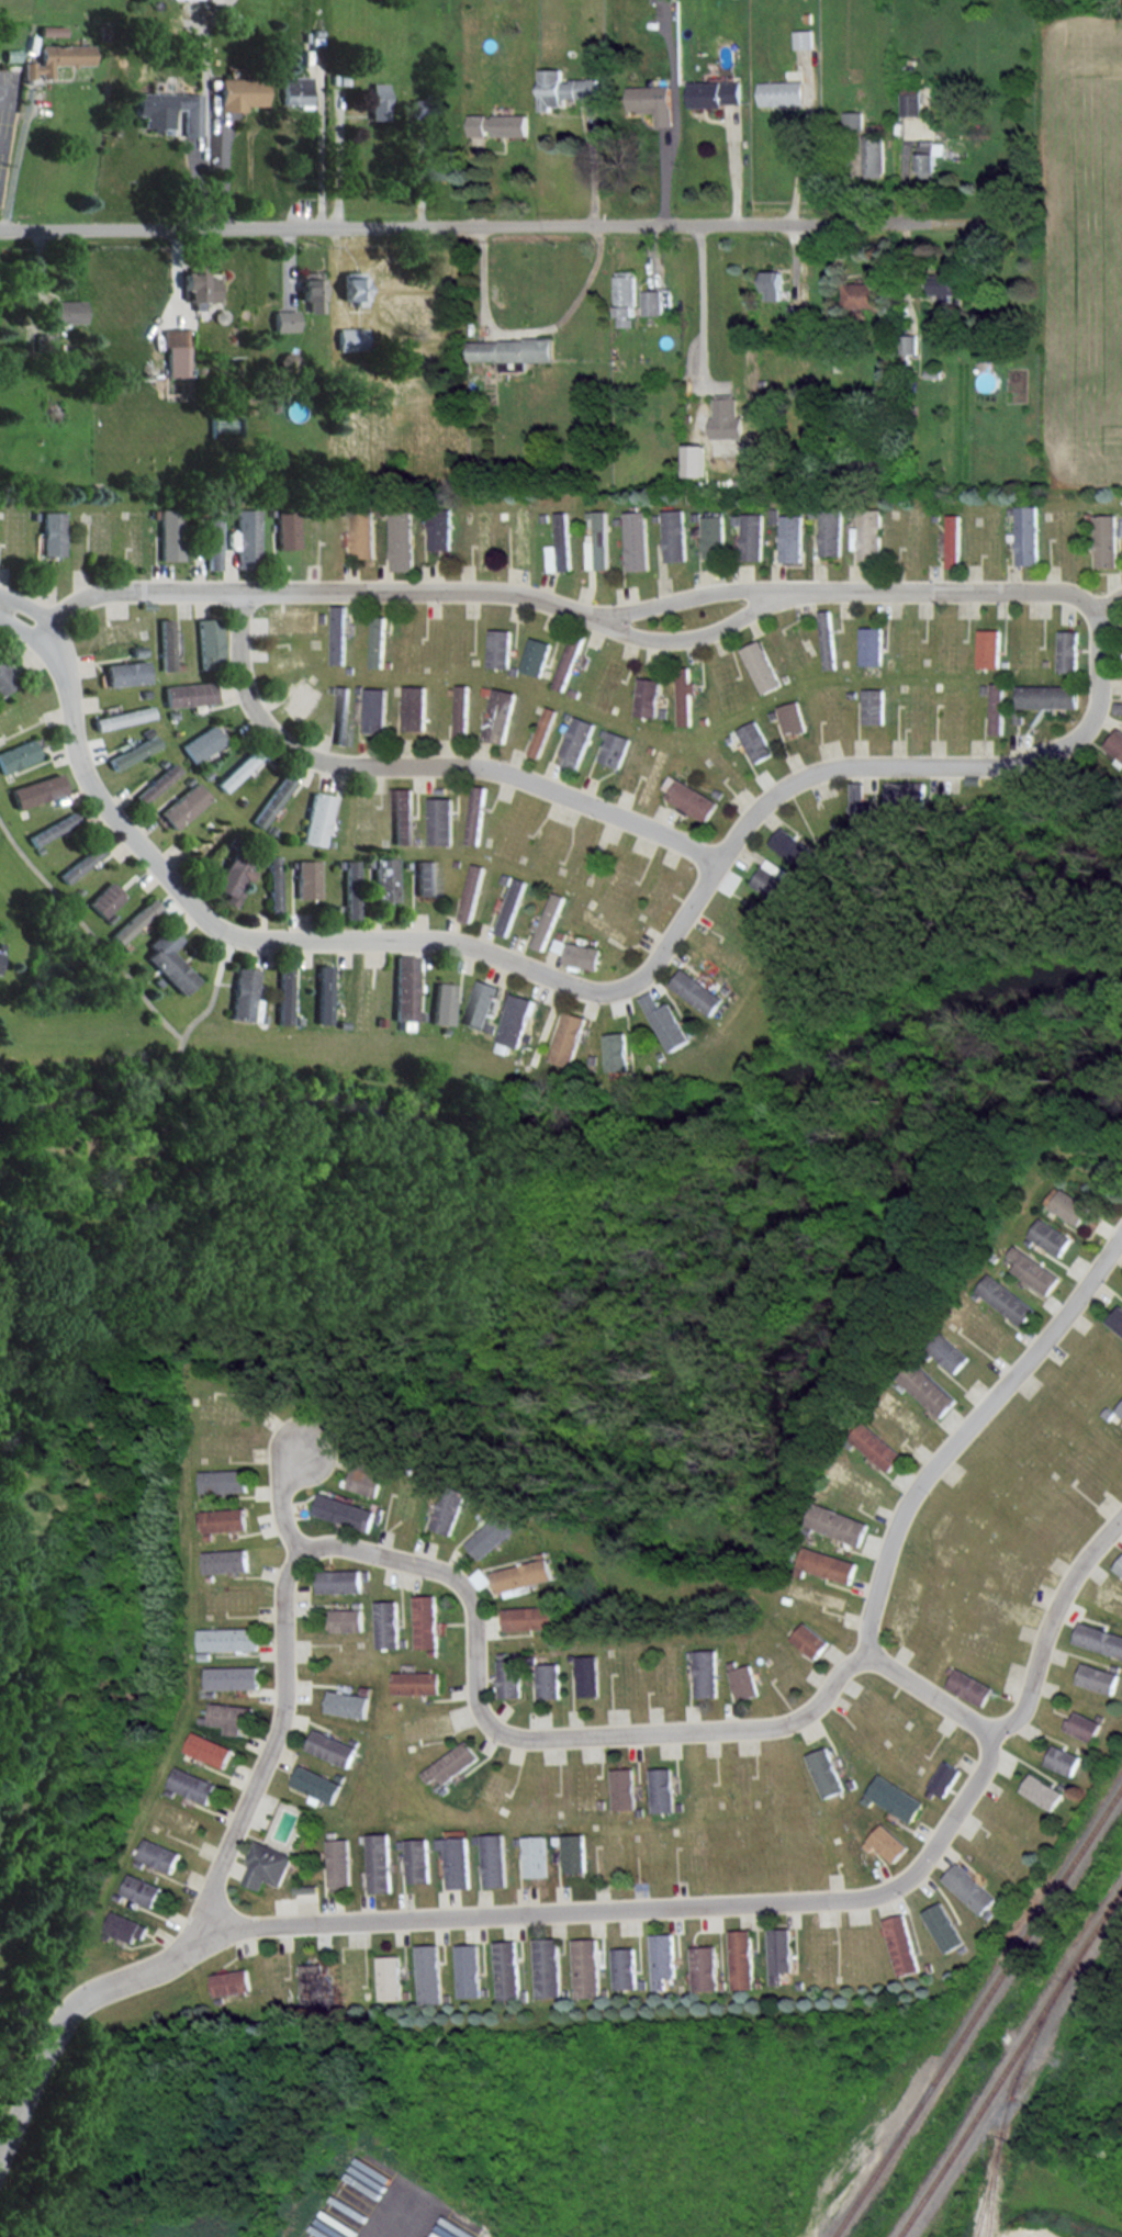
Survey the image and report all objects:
building: (659, 0)
building: (49, 31)
building: (804, 38)
building: (10, 55)
building: (56, 58)
building: (564, 89)
building: (294, 90)
building: (238, 93)
building: (716, 93)
building: (782, 93)
building: (377, 101)
building: (652, 102)
building: (910, 102)
building: (418, 106)
building: (167, 111)
building: (854, 120)
building: (498, 124)
building: (874, 156)
building: (930, 157)
road: (337, 158)
road: (800, 162)
building: (445, 165)
road: (491, 224)
crop: (1089, 247)
building: (773, 284)
building: (945, 284)
building: (198, 288)
building: (351, 288)
building: (310, 290)
building: (863, 294)
building: (626, 299)
building: (652, 302)
road: (703, 304)
building: (66, 311)
building: (283, 321)
road: (527, 331)
building: (349, 338)
building: (44, 340)
building: (512, 349)
building: (173, 351)
building: (284, 361)
building: (726, 416)
building: (694, 460)
building: (285, 529)
building: (440, 530)
building: (51, 532)
building: (362, 532)
building: (831, 532)
building: (168, 533)
building: (674, 535)
building: (868, 535)
building: (1025, 535)
building: (714, 536)
building: (245, 537)
building: (752, 537)
building: (210, 538)
building: (792, 538)
building: (637, 540)
building: (952, 540)
building: (1104, 540)
building: (402, 541)
building: (598, 543)
building: (560, 544)
road: (284, 591)
road: (961, 591)
road: (684, 597)
road: (1108, 604)
road: (24, 605)
road: (16, 628)
building: (339, 634)
road: (687, 638)
building: (830, 639)
building: (378, 641)
building: (207, 643)
building: (166, 644)
building: (873, 645)
building: (500, 648)
building: (988, 648)
building: (1067, 651)
building: (536, 656)
building: (566, 665)
building: (762, 666)
building: (125, 673)
building: (4, 679)
building: (188, 694)
building: (684, 695)
building: (648, 696)
building: (1047, 696)
building: (876, 706)
building: (415, 708)
building: (998, 708)
building: (1118, 708)
building: (375, 710)
building: (461, 711)
building: (341, 715)
building: (500, 715)
building: (121, 717)
building: (793, 718)
building: (542, 731)
building: (576, 741)
building: (755, 741)
building: (201, 743)
building: (1115, 743)
building: (615, 749)
building: (132, 752)
building: (18, 755)
road: (426, 765)
building: (236, 771)
building: (156, 783)
building: (37, 790)
building: (909, 792)
building: (689, 798)
building: (271, 800)
building: (182, 806)
building: (863, 808)
building: (475, 814)
building: (402, 816)
building: (315, 819)
building: (441, 821)
building: (52, 829)
building: (793, 846)
building: (80, 863)
building: (232, 877)
building: (425, 877)
building: (305, 878)
building: (383, 879)
building: (774, 879)
building: (271, 884)
building: (349, 889)
building: (472, 892)
building: (104, 899)
building: (510, 906)
building: (134, 921)
building: (548, 921)
building: (579, 954)
building: (0, 955)
building: (169, 960)
building: (405, 987)
road: (583, 990)
building: (699, 991)
building: (283, 993)
building: (323, 993)
building: (244, 994)
building: (442, 1003)
building: (481, 1004)
building: (670, 1022)
building: (514, 1023)
building: (569, 1038)
building: (618, 1052)
building: (1067, 1204)
building: (1050, 1235)
building: (1028, 1240)
building: (994, 1257)
building: (1033, 1269)
building: (975, 1294)
building: (1006, 1297)
building: (1117, 1318)
building: (949, 1351)
building: (927, 1353)
building: (900, 1385)
building: (928, 1387)
building: (1120, 1407)
building: (1110, 1412)
road: (967, 1428)
building: (850, 1442)
building: (876, 1445)
building: (411, 1469)
building: (367, 1477)
building: (224, 1480)
building: (444, 1484)
building: (205, 1496)
road: (281, 1500)
building: (451, 1508)
building: (346, 1510)
building: (495, 1513)
building: (380, 1515)
building: (224, 1518)
building: (837, 1521)
building: (808, 1529)
building: (494, 1533)
building: (207, 1536)
building: (545, 1553)
building: (225, 1560)
building: (827, 1563)
building: (1119, 1564)
building: (798, 1570)
building: (366, 1572)
building: (524, 1574)
building: (210, 1575)
building: (482, 1578)
building: (338, 1580)
building: (815, 1594)
building: (787, 1597)
building: (549, 1600)
building: (357, 1604)
building: (529, 1616)
building: (346, 1618)
building: (426, 1620)
building: (386, 1622)
road: (1048, 1623)
building: (227, 1638)
building: (1099, 1638)
building: (809, 1639)
building: (403, 1641)
building: (433, 1651)
building: (689, 1653)
building: (204, 1654)
building: (504, 1654)
building: (573, 1655)
building: (532, 1659)
building: (732, 1663)
building: (1115, 1666)
building: (950, 1668)
building: (707, 1672)
building: (590, 1674)
building: (232, 1676)
building: (510, 1676)
building: (1097, 1676)
building: (550, 1679)
building: (744, 1680)
building: (416, 1682)
building: (969, 1685)
building: (364, 1688)
road: (927, 1690)
building: (210, 1691)
building: (347, 1702)
building: (396, 1704)
building: (231, 1716)
building: (1099, 1716)
building: (202, 1718)
building: (1082, 1724)
building: (424, 1725)
road: (530, 1738)
building: (355, 1740)
road: (271, 1745)
building: (411, 1745)
building: (330, 1746)
building: (207, 1747)
building: (1062, 1757)
building: (452, 1763)
building: (826, 1771)
building: (339, 1775)
building: (943, 1776)
building: (852, 1781)
building: (191, 1783)
building: (316, 1783)
building: (1062, 1784)
building: (624, 1788)
building: (662, 1789)
building: (169, 1790)
building: (1042, 1790)
building: (895, 1796)
building: (867, 1798)
building: (888, 1841)
building: (868, 1844)
building: (574, 1854)
building: (156, 1855)
building: (536, 1856)
building: (460, 1859)
building: (494, 1861)
building: (418, 1862)
building: (338, 1863)
building: (380, 1863)
building: (263, 1865)
building: (969, 1887)
building: (304, 1888)
building: (138, 1890)
road: (639, 1908)
building: (987, 1912)
building: (943, 1925)
building: (123, 1927)
building: (900, 1943)
building: (963, 1947)
building: (777, 1952)
building: (740, 1956)
building: (661, 1959)
building: (928, 1965)
building: (703, 1966)
building: (547, 1967)
building: (585, 1967)
building: (622, 1968)
building: (468, 1970)
building: (506, 1971)
building: (428, 1974)
building: (389, 1977)
building: (228, 1981)
building: (756, 1981)
building: (720, 1982)
building: (315, 1983)
building: (798, 1983)
railway: (977, 2013)
road: (67, 2015)
railway: (1009, 2062)
railway: (1002, 2117)
railway: (860, 2172)
railway: (991, 2189)

